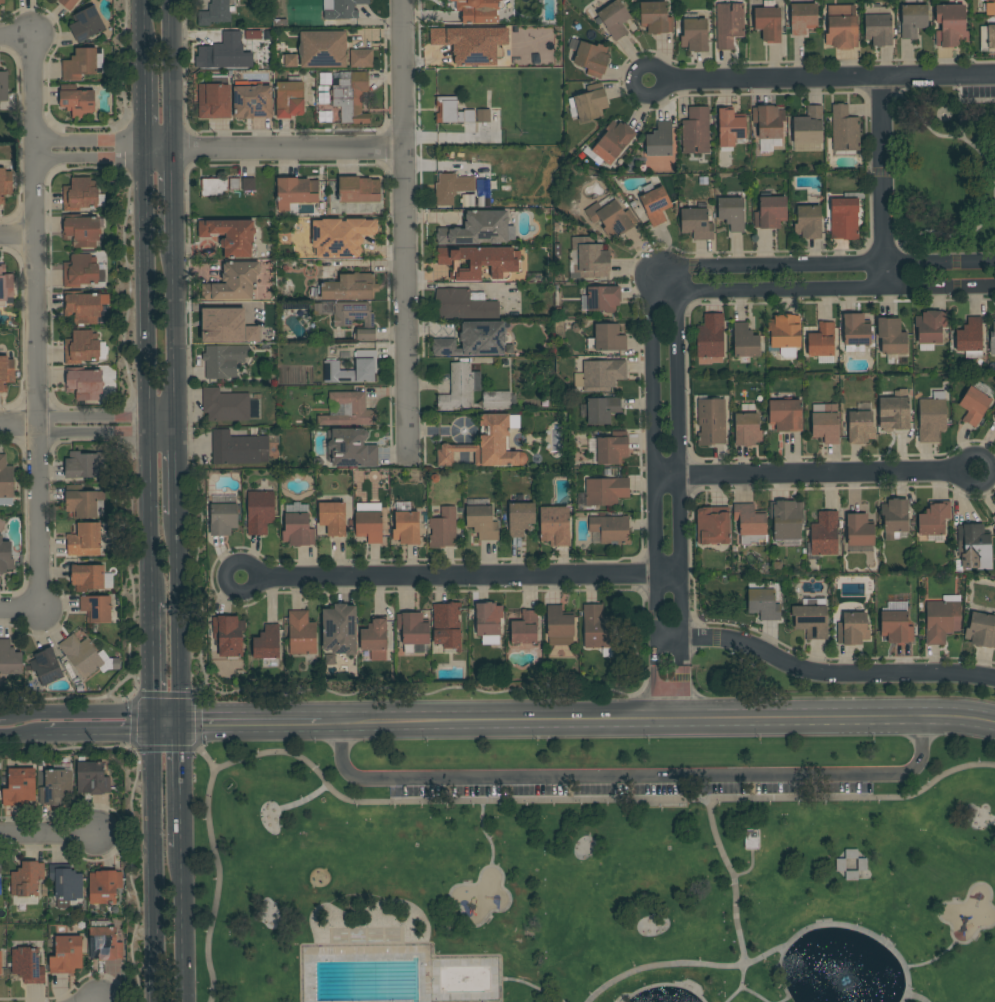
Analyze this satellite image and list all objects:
building: (2, 1)
building: (68, 4)
building: (990, 7)
building: (342, 10)
building: (479, 10)
building: (215, 13)
building: (655, 17)
building: (803, 18)
building: (614, 19)
building: (913, 20)
building: (768, 23)
building: (86, 24)
building: (729, 24)
building: (840, 28)
building: (878, 29)
building: (952, 30)
road: (143, 31)
building: (256, 32)
building: (695, 34)
road: (16, 35)
building: (217, 38)
building: (991, 38)
building: (471, 43)
building: (323, 49)
building: (361, 58)
building: (592, 58)
building: (211, 59)
building: (291, 60)
building: (80, 64)
road: (173, 75)
building: (325, 78)
road: (827, 79)
road: (660, 84)
building: (4, 86)
building: (350, 97)
building: (214, 98)
building: (289, 99)
building: (78, 101)
building: (251, 102)
building: (591, 102)
road: (145, 105)
building: (452, 110)
building: (483, 115)
building: (768, 121)
building: (810, 124)
building: (730, 127)
building: (844, 129)
building: (696, 131)
building: (616, 138)
building: (660, 140)
road: (90, 142)
road: (274, 149)
road: (90, 159)
park: (943, 173)
building: (5, 184)
building: (248, 184)
road: (883, 184)
building: (214, 187)
building: (453, 188)
building: (359, 190)
building: (296, 192)
road: (175, 193)
building: (81, 194)
building: (655, 203)
building: (771, 212)
building: (732, 213)
building: (612, 217)
building: (844, 218)
building: (808, 222)
building: (697, 223)
building: (477, 229)
road: (34, 230)
building: (81, 230)
road: (404, 232)
road: (17, 236)
building: (231, 236)
building: (340, 237)
building: (590, 259)
building: (480, 262)
road: (825, 265)
building: (80, 271)
building: (234, 282)
road: (147, 284)
building: (5, 286)
building: (350, 287)
road: (823, 292)
building: (603, 298)
building: (464, 304)
building: (82, 307)
building: (256, 312)
building: (222, 316)
building: (351, 317)
road: (177, 326)
building: (931, 326)
building: (784, 331)
building: (856, 332)
building: (710, 336)
building: (609, 338)
building: (892, 338)
building: (970, 338)
building: (474, 340)
building: (822, 340)
building: (992, 340)
building: (745, 341)
building: (82, 347)
building: (224, 360)
building: (366, 367)
building: (6, 372)
building: (600, 375)
building: (84, 383)
building: (458, 388)
building: (496, 400)
building: (225, 405)
building: (974, 405)
building: (602, 409)
building: (349, 410)
building: (894, 412)
building: (785, 415)
building: (994, 415)
road: (91, 416)
road: (164, 417)
building: (932, 417)
building: (711, 420)
road: (179, 424)
building: (826, 424)
road: (149, 425)
road: (18, 426)
building: (860, 427)
building: (747, 429)
road: (92, 432)
road: (164, 432)
building: (486, 445)
building: (238, 448)
building: (350, 448)
building: (612, 448)
road: (678, 453)
road: (653, 456)
building: (83, 464)
road: (989, 471)
road: (179, 473)
road: (805, 474)
building: (6, 482)
building: (606, 491)
building: (81, 502)
building: (260, 511)
road: (150, 517)
building: (520, 517)
building: (895, 517)
road: (37, 518)
building: (223, 518)
building: (333, 518)
building: (934, 518)
building: (994, 518)
building: (786, 519)
building: (482, 522)
building: (750, 523)
building: (370, 524)
building: (406, 525)
building: (713, 525)
building: (443, 528)
building: (557, 529)
building: (611, 529)
building: (298, 530)
building: (859, 530)
building: (824, 535)
building: (84, 540)
building: (973, 547)
building: (5, 556)
building: (87, 577)
road: (470, 578)
road: (220, 580)
building: (764, 604)
building: (96, 608)
road: (19, 610)
road: (180, 617)
building: (488, 619)
building: (942, 619)
building: (811, 621)
building: (559, 624)
building: (447, 625)
building: (897, 627)
building: (525, 628)
building: (597, 629)
building: (853, 629)
building: (339, 630)
building: (413, 630)
building: (981, 630)
building: (301, 633)
building: (228, 635)
building: (374, 635)
road: (669, 639)
building: (267, 643)
road: (682, 652)
road: (657, 653)
road: (151, 655)
building: (85, 656)
building: (9, 659)
building: (46, 666)
road: (835, 671)
road: (657, 693)
road: (682, 693)
road: (79, 710)
road: (3, 711)
road: (166, 715)
road: (152, 720)
road: (658, 720)
road: (251, 723)
road: (166, 726)
road: (102, 731)
road: (26, 732)
road: (196, 745)
building: (92, 778)
road: (632, 778)
parking lot: (626, 782)
road: (180, 784)
building: (20, 787)
building: (56, 787)
road: (303, 802)
road: (479, 803)
road: (483, 823)
road: (48, 835)
building: (751, 839)
building: (851, 853)
building: (862, 864)
building: (840, 865)
road: (154, 866)
road: (749, 867)
park: (596, 870)
building: (851, 875)
building: (0, 879)
building: (27, 879)
road: (732, 881)
building: (66, 884)
building: (104, 886)
road: (181, 924)
road: (838, 924)
building: (104, 942)
building: (66, 954)
road: (934, 958)
building: (0, 963)
road: (682, 963)
building: (27, 965)
fountain: (844, 980)
road: (666, 985)
road: (536, 988)
road: (746, 990)
road: (917, 997)

